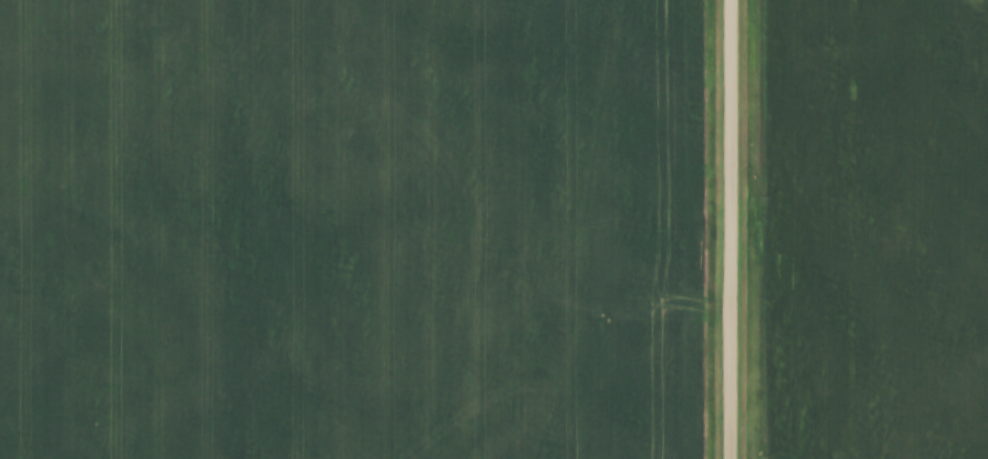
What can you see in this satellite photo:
road: (727, 229)

